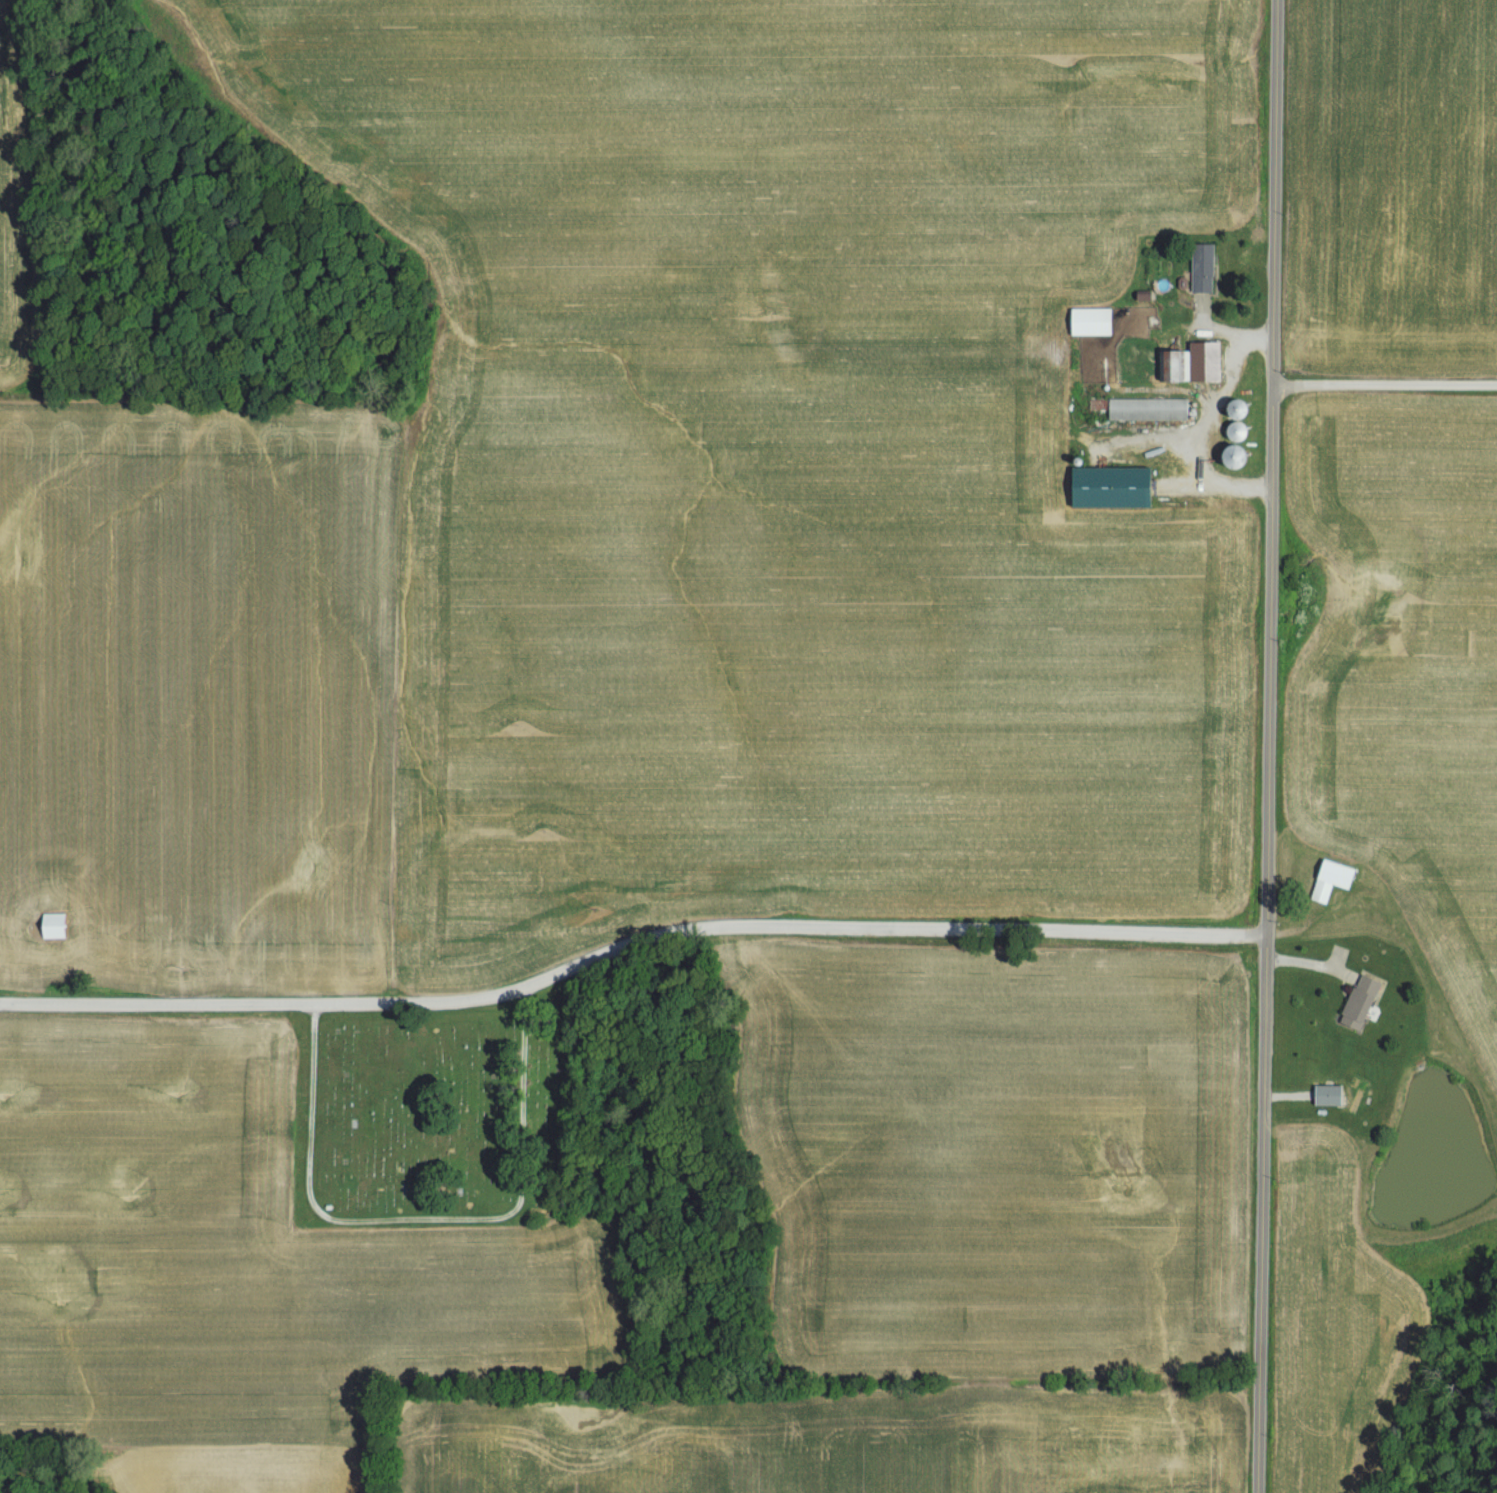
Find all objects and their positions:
building: (1200, 270)
building: (1089, 324)
road: (1238, 337)
building: (1189, 366)
road: (1385, 384)
road: (1210, 393)
building: (1146, 411)
building: (1107, 489)
road: (1262, 746)
building: (1329, 882)
building: (51, 928)
road: (628, 944)
building: (1356, 1010)

